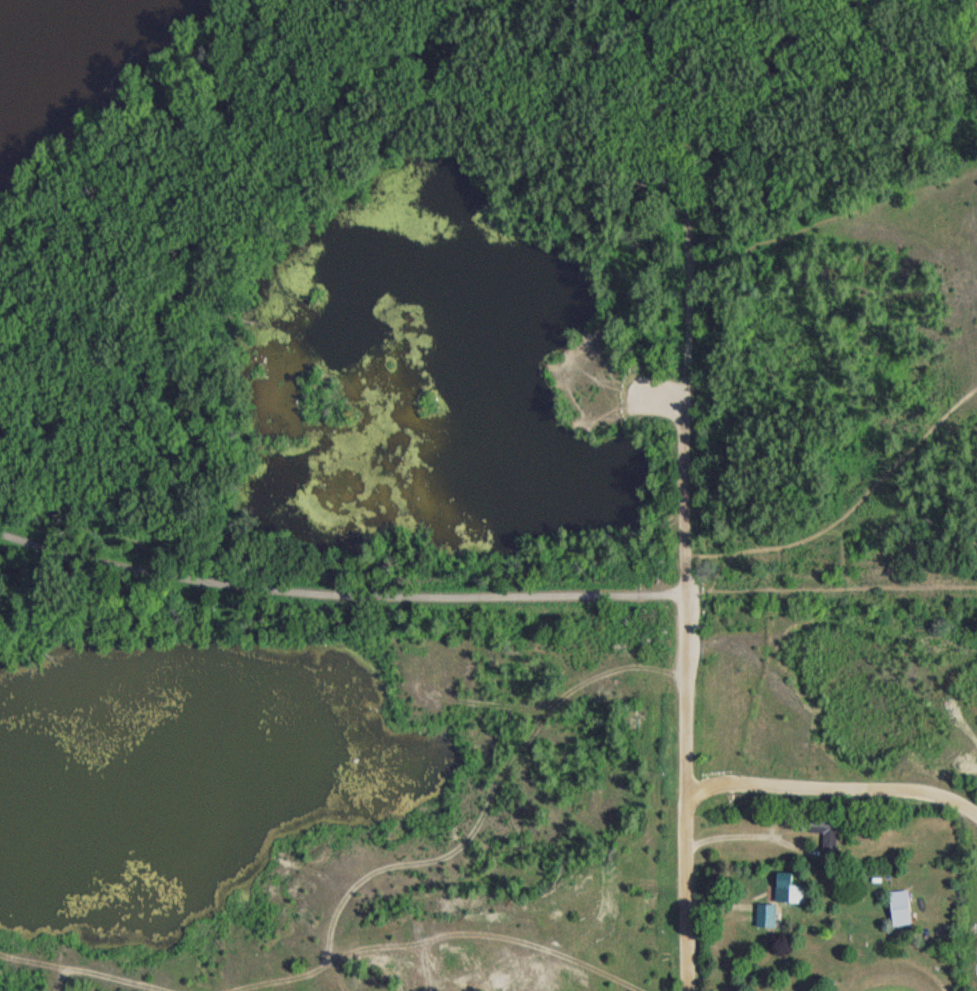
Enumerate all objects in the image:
river: (42, 12)
river: (47, 23)
river: (4, 49)
road: (689, 495)
road: (483, 597)
road: (746, 837)
building: (824, 840)
building: (780, 904)
building: (897, 913)

